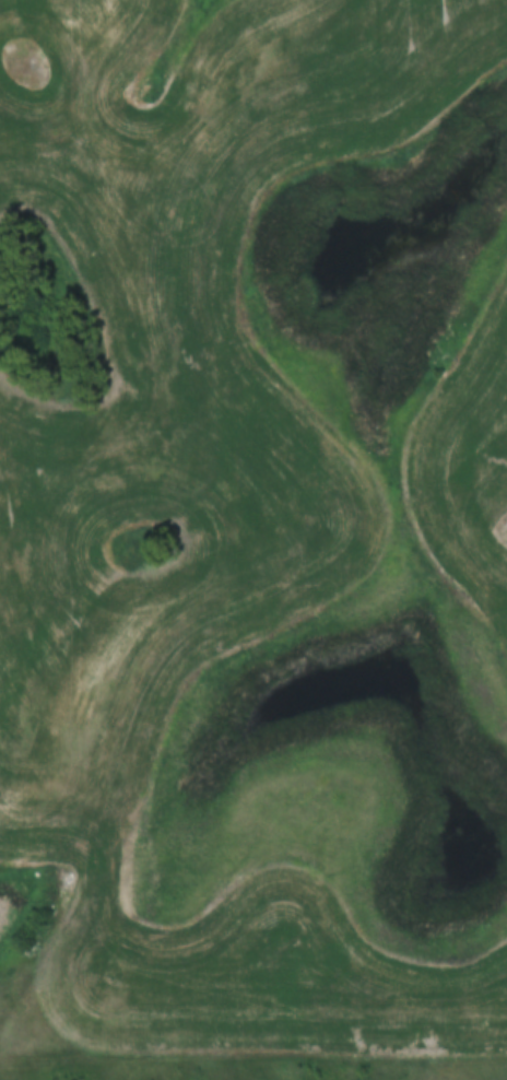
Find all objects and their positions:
road: (252, 1043)

